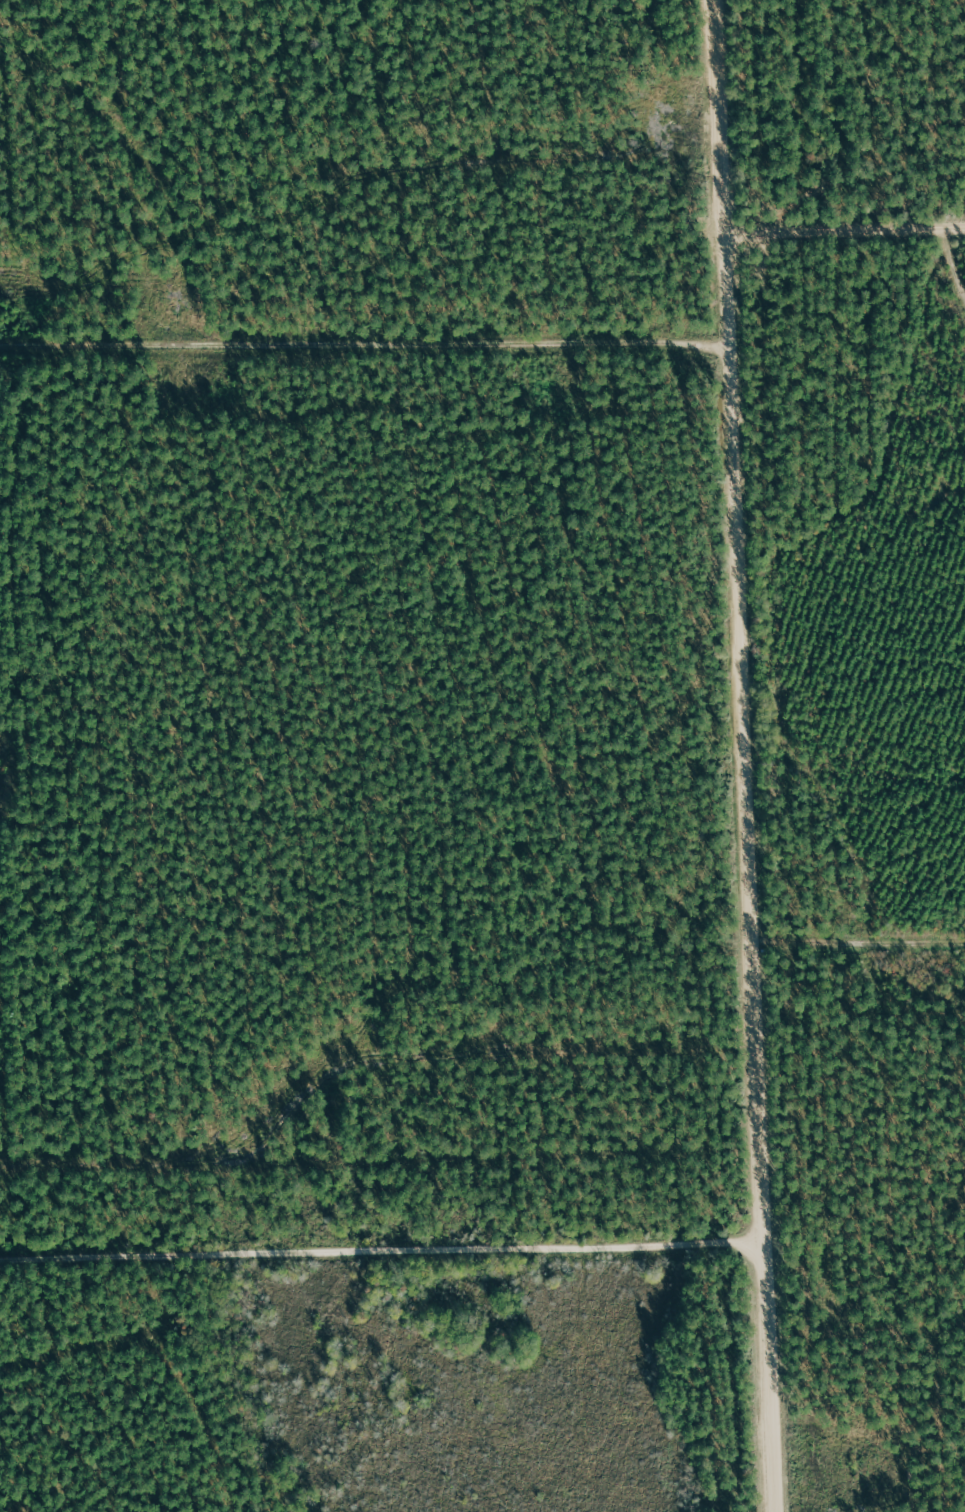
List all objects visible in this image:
road: (846, 232)
road: (365, 344)
road: (754, 755)
road: (392, 1265)

